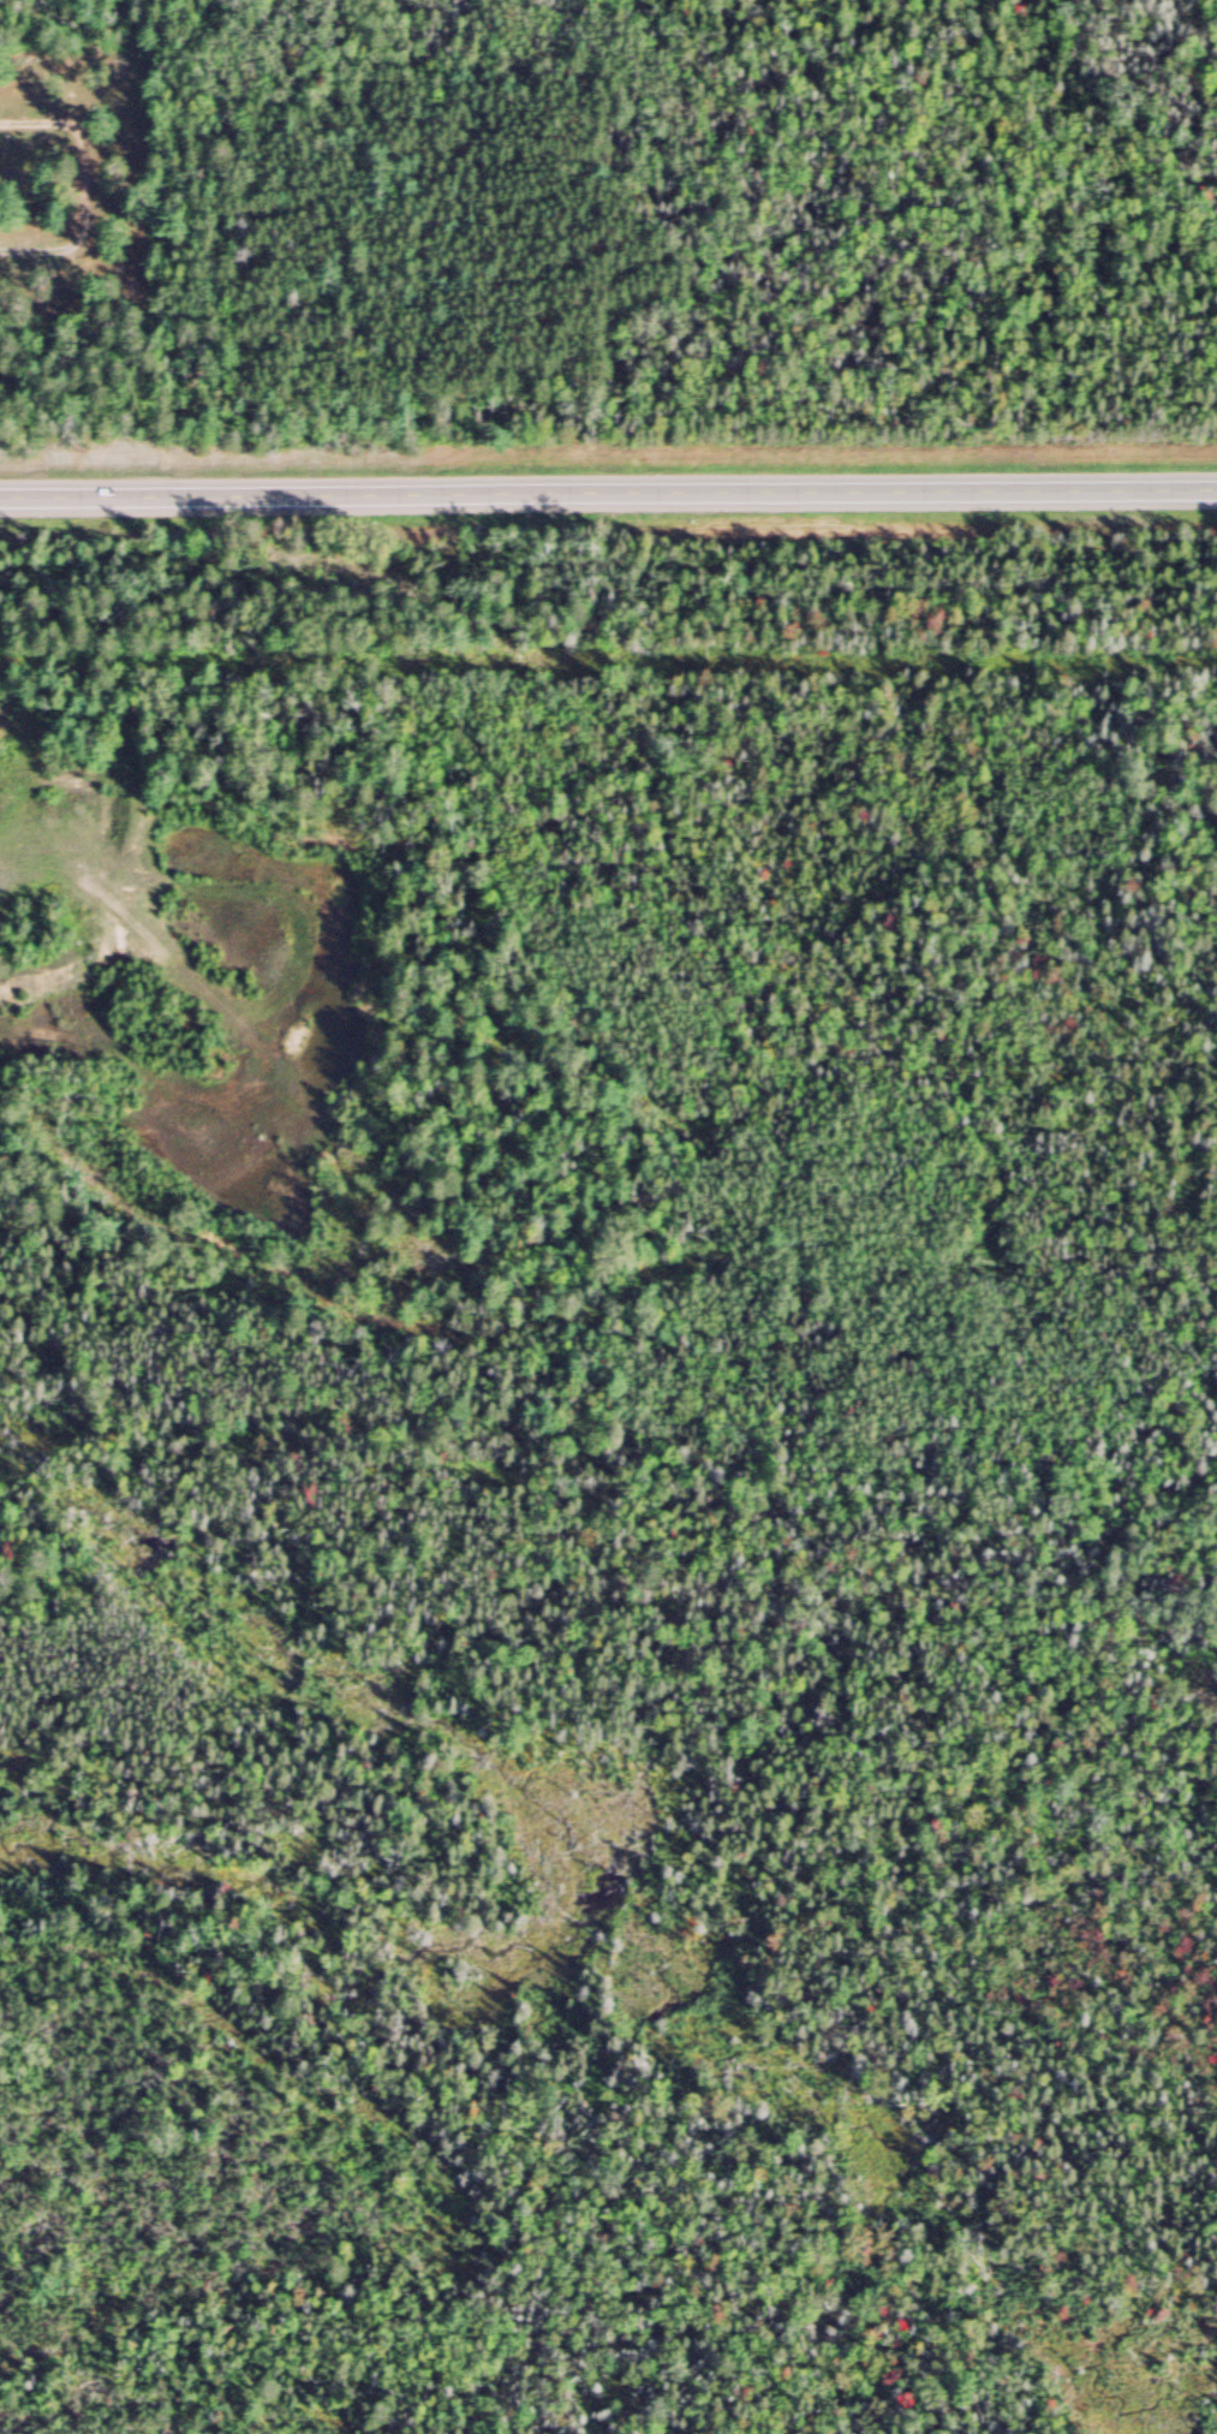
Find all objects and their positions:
park: (79, 171)
road: (82, 180)
road: (608, 492)

